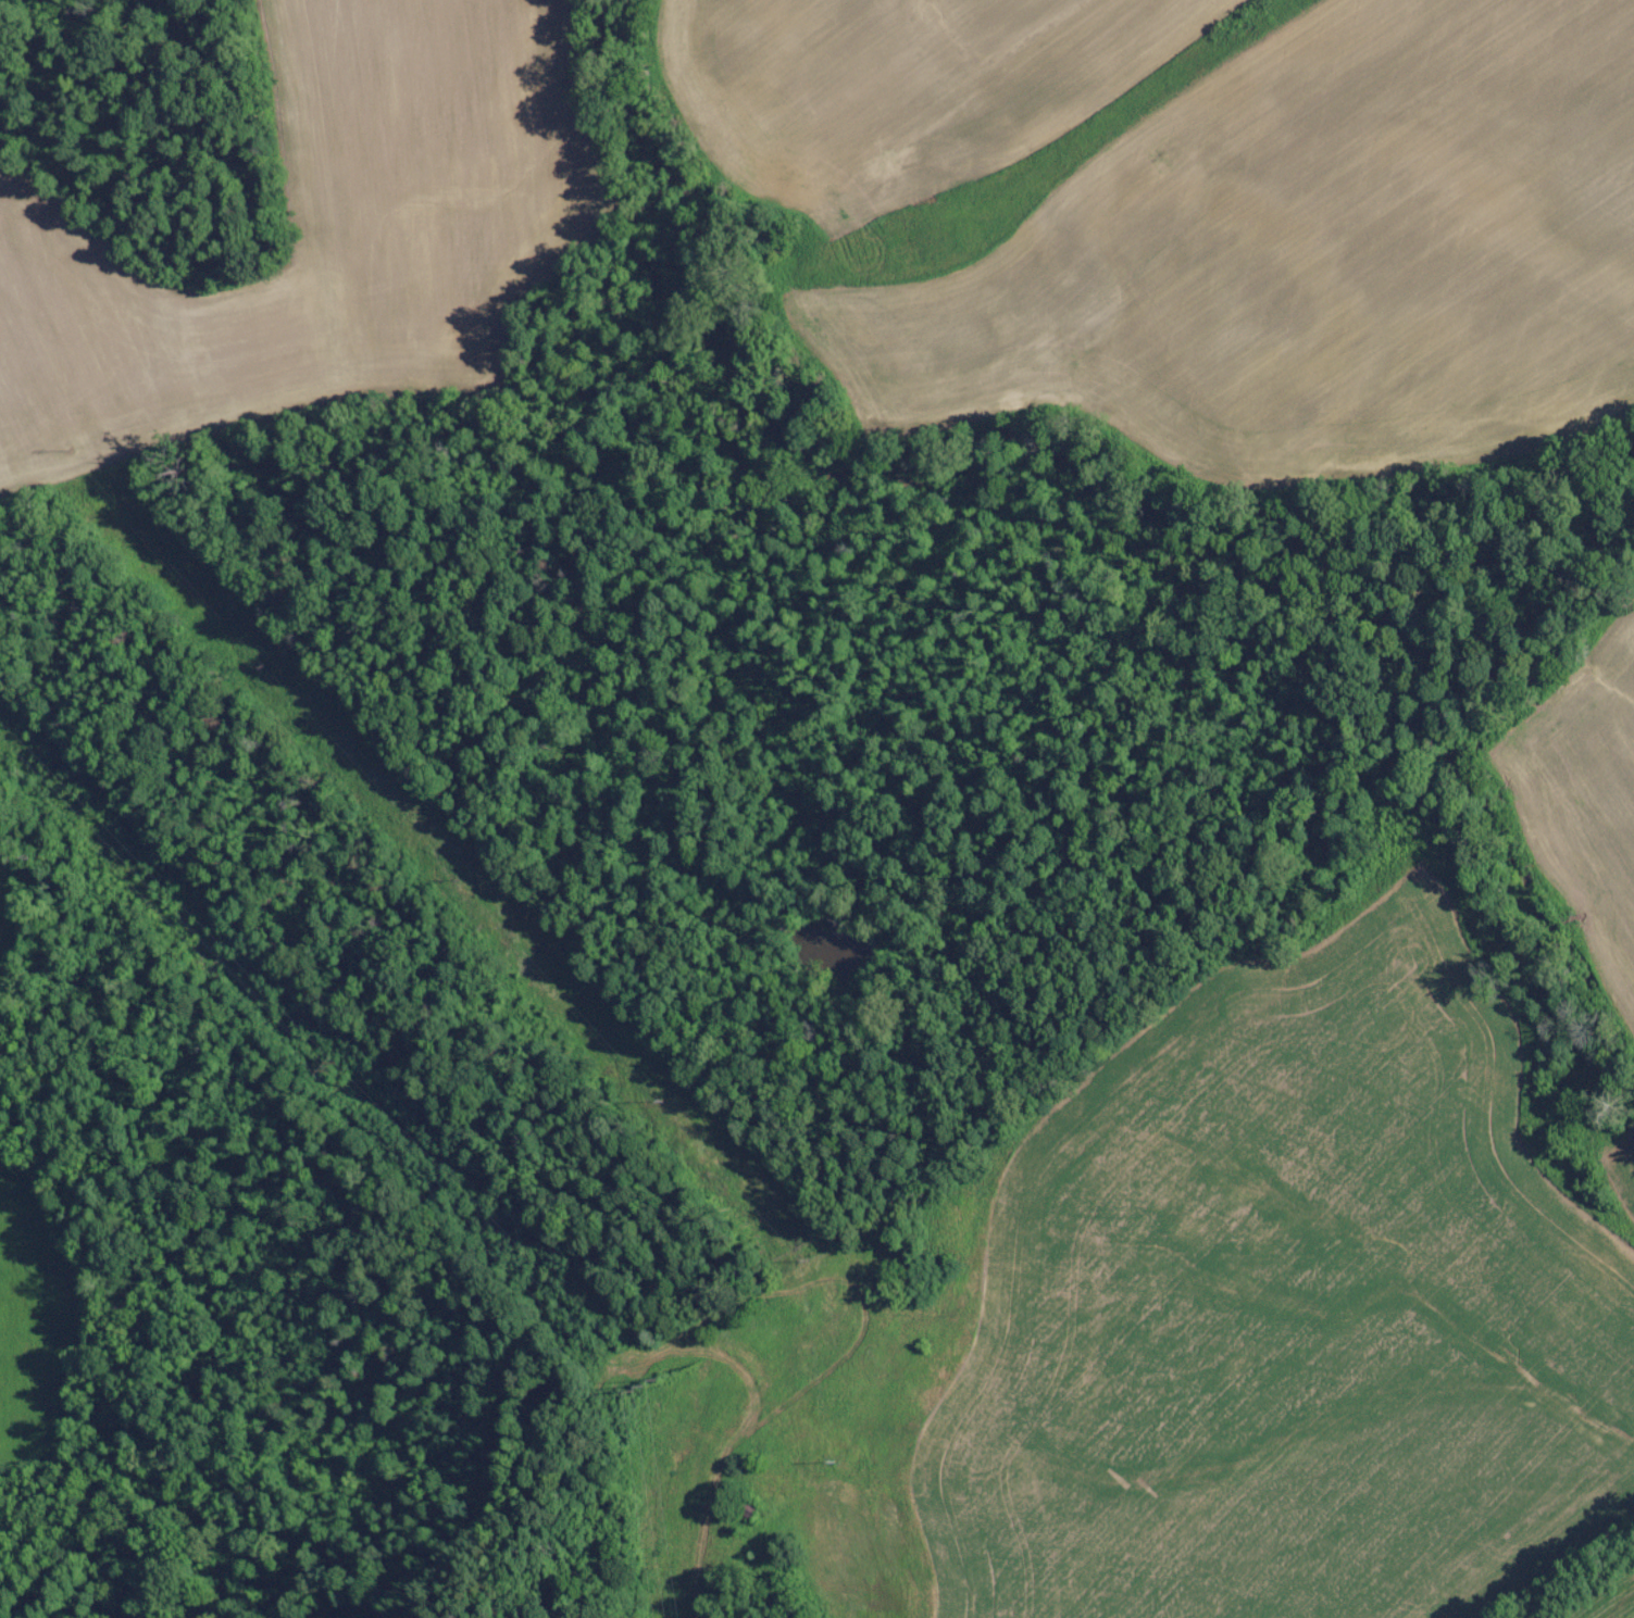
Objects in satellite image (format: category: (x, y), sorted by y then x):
power tower: (657, 1377)
road: (509, 1537)

